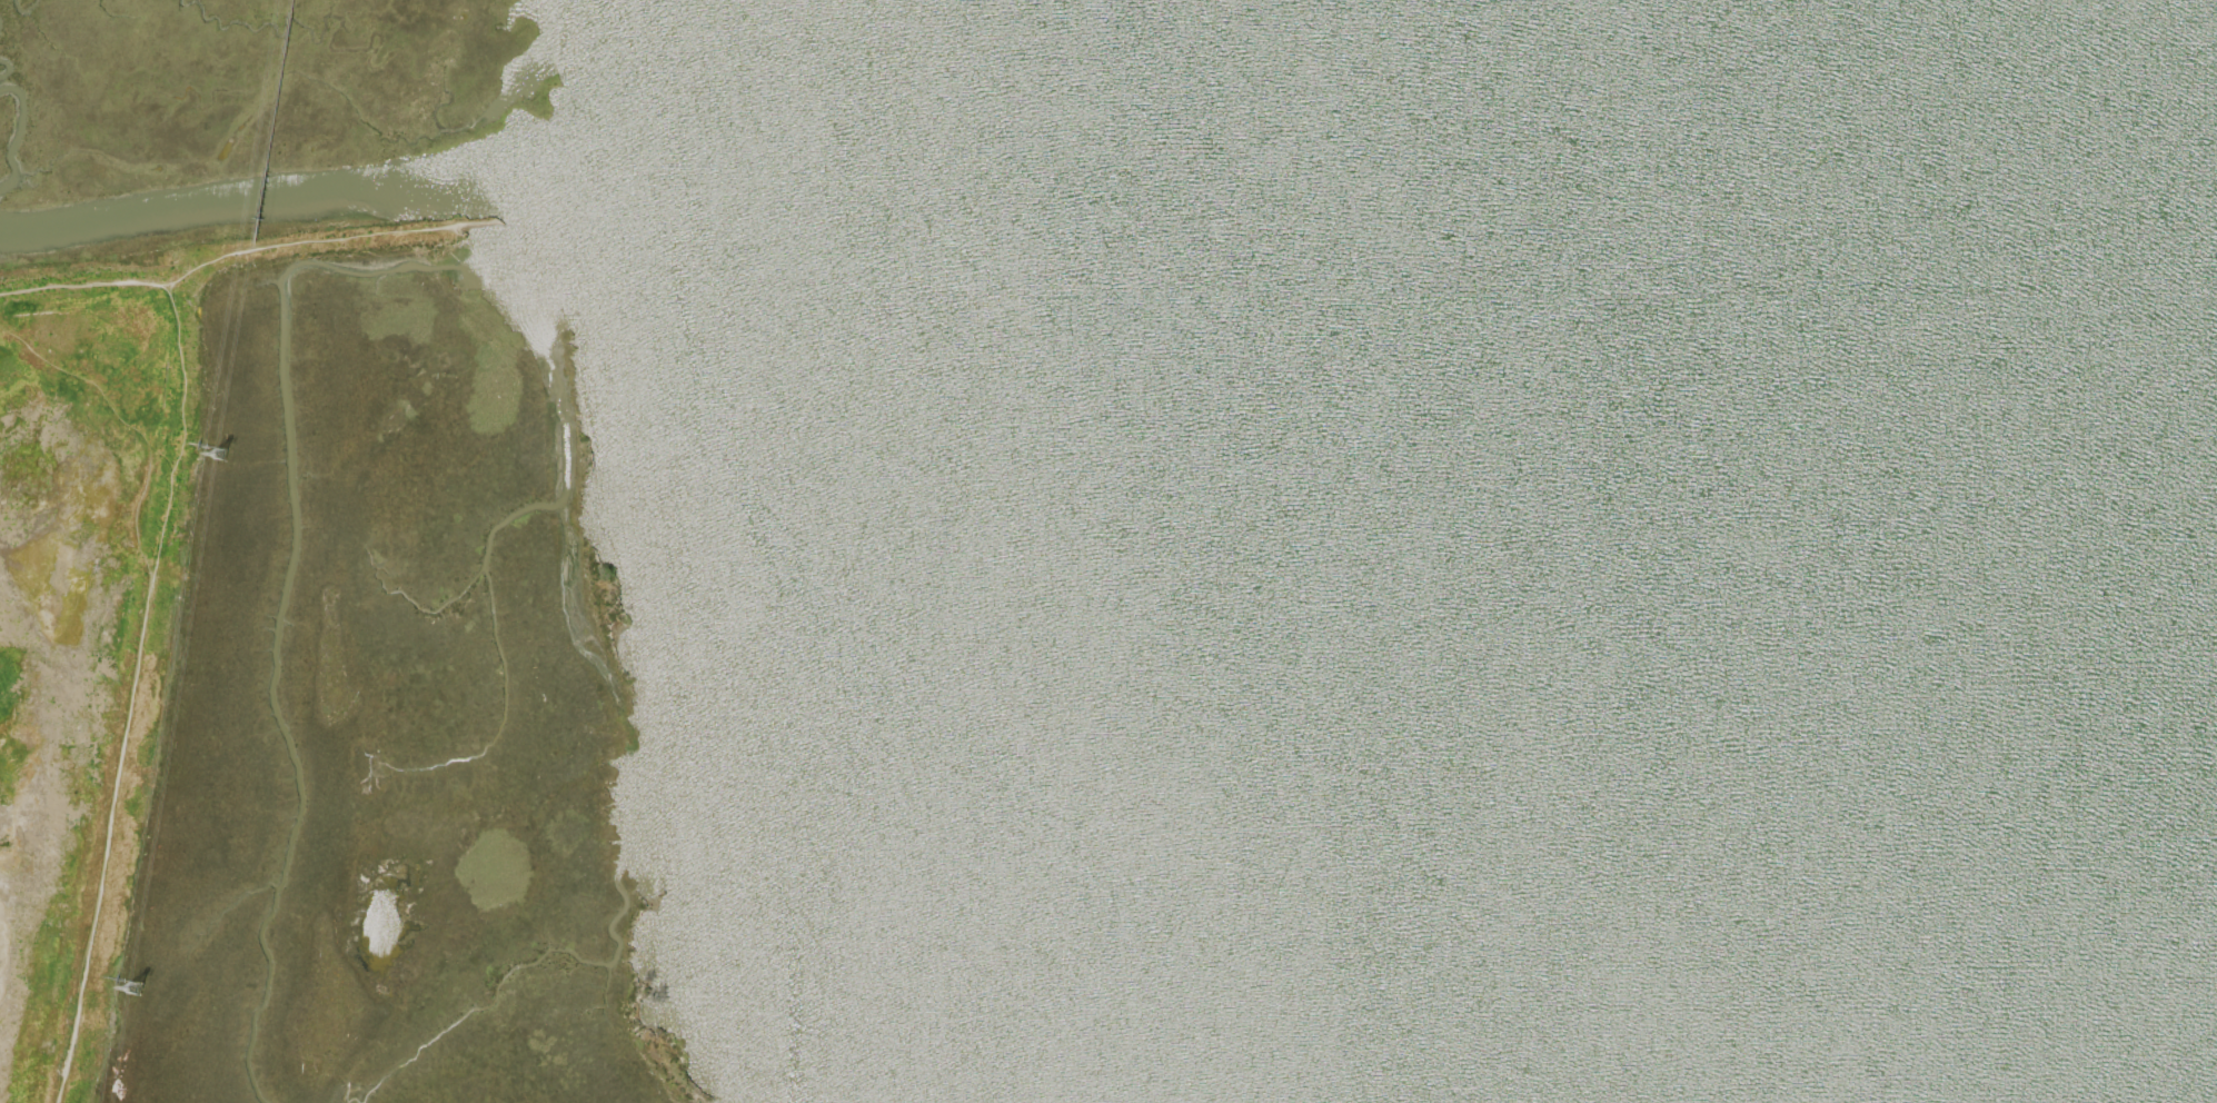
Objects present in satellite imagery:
road: (250, 254)
road: (126, 424)
power tower: (220, 454)
road: (131, 694)
power tower: (133, 987)

